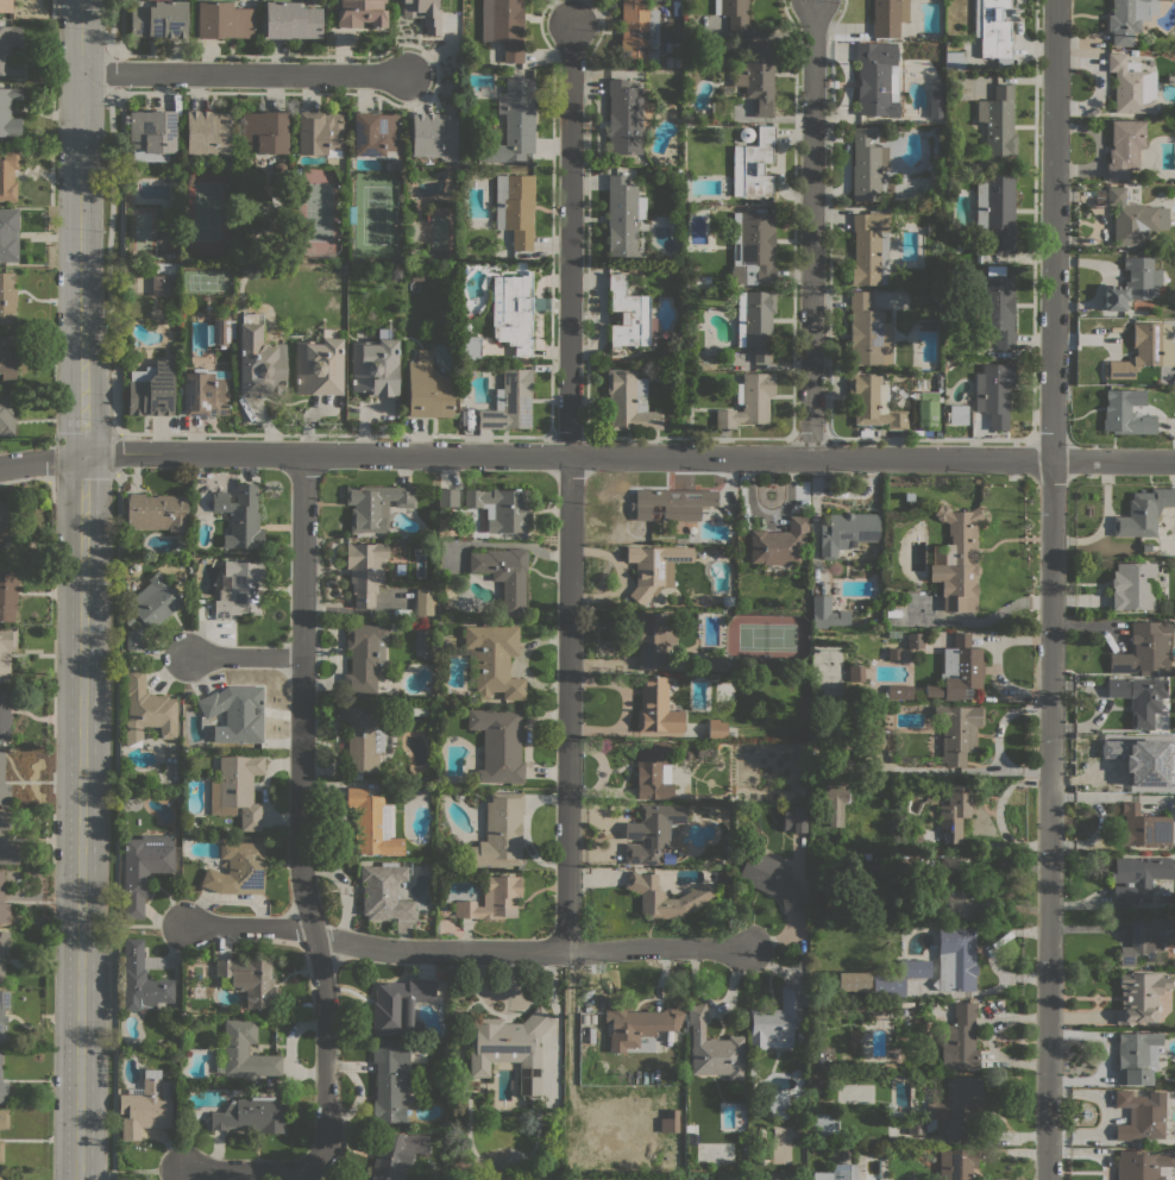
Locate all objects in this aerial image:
building: (6, 5)
building: (360, 13)
building: (423, 13)
building: (734, 13)
building: (888, 17)
building: (158, 19)
building: (1126, 19)
building: (224, 20)
building: (291, 20)
building: (504, 26)
road: (112, 27)
building: (993, 30)
building: (639, 33)
building: (10, 50)
building: (1133, 52)
building: (955, 59)
road: (108, 73)
road: (245, 75)
building: (756, 76)
building: (875, 79)
building: (1131, 84)
road: (50, 101)
building: (935, 101)
building: (8, 112)
building: (624, 118)
building: (998, 121)
building: (514, 123)
building: (264, 132)
building: (319, 133)
building: (152, 134)
building: (207, 134)
building: (376, 134)
building: (434, 134)
building: (746, 134)
building: (1125, 146)
building: (754, 164)
building: (867, 165)
building: (8, 175)
building: (515, 208)
building: (997, 208)
building: (623, 215)
building: (1133, 219)
road: (812, 228)
road: (1054, 230)
building: (8, 234)
building: (753, 247)
building: (871, 249)
building: (979, 258)
road: (108, 263)
building: (159, 284)
building: (1131, 284)
building: (7, 297)
building: (994, 306)
building: (513, 312)
building: (628, 314)
building: (755, 321)
building: (220, 331)
building: (868, 332)
building: (471, 347)
building: (1141, 351)
building: (259, 360)
building: (6, 363)
building: (319, 364)
building: (375, 365)
building: (428, 388)
building: (152, 390)
building: (206, 393)
building: (994, 393)
building: (510, 401)
building: (749, 401)
building: (630, 402)
building: (873, 402)
building: (929, 409)
building: (1126, 413)
building: (7, 414)
building: (959, 414)
road: (52, 441)
road: (567, 456)
road: (40, 460)
road: (1113, 460)
road: (568, 487)
building: (907, 496)
building: (447, 497)
building: (676, 502)
building: (375, 506)
building: (499, 508)
building: (157, 511)
building: (1143, 513)
building: (240, 516)
building: (7, 525)
building: (847, 532)
building: (779, 542)
building: (1145, 547)
building: (957, 560)
building: (654, 569)
building: (365, 570)
building: (504, 575)
building: (1131, 585)
road: (82, 589)
building: (240, 589)
building: (7, 592)
building: (728, 600)
building: (425, 601)
building: (149, 610)
building: (825, 613)
building: (652, 636)
building: (457, 640)
building: (915, 640)
building: (1144, 648)
building: (6, 651)
road: (151, 655)
building: (364, 655)
road: (245, 657)
building: (495, 660)
building: (712, 663)
building: (957, 669)
building: (856, 673)
building: (899, 692)
building: (918, 693)
road: (302, 698)
building: (1141, 698)
building: (656, 707)
building: (145, 710)
building: (235, 710)
building: (6, 711)
building: (717, 729)
building: (957, 732)
building: (815, 739)
building: (878, 739)
building: (363, 740)
road: (527, 742)
building: (498, 743)
building: (1143, 759)
building: (653, 767)
building: (835, 782)
building: (817, 783)
building: (4, 789)
building: (237, 789)
building: (834, 804)
building: (956, 809)
building: (794, 817)
building: (5, 820)
road: (1049, 820)
building: (372, 824)
road: (114, 827)
building: (1143, 827)
road: (524, 829)
building: (499, 831)
building: (653, 831)
building: (8, 851)
building: (867, 855)
building: (876, 855)
building: (894, 855)
building: (667, 858)
building: (885, 867)
building: (144, 868)
building: (237, 868)
building: (767, 874)
building: (1137, 878)
building: (960, 889)
building: (385, 895)
building: (698, 895)
building: (492, 899)
building: (905, 902)
building: (4, 903)
building: (915, 916)
road: (150, 927)
road: (250, 928)
building: (1146, 939)
building: (4, 940)
road: (533, 952)
building: (956, 958)
building: (1173, 964)
building: (916, 968)
building: (1, 971)
building: (142, 980)
building: (249, 981)
building: (853, 981)
building: (888, 985)
building: (1139, 997)
building: (398, 1004)
building: (879, 1009)
building: (2, 1011)
building: (777, 1021)
building: (637, 1024)
building: (808, 1035)
building: (802, 1036)
building: (960, 1038)
building: (509, 1047)
building: (714, 1048)
building: (244, 1052)
building: (1137, 1056)
building: (813, 1057)
building: (390, 1082)
building: (2, 1085)
building: (145, 1105)
building: (779, 1105)
building: (951, 1111)
building: (251, 1115)
building: (1141, 1115)
building: (4, 1119)
road: (326, 1121)
building: (671, 1121)
building: (825, 1125)
building: (689, 1128)
building: (779, 1144)
building: (1, 1150)
building: (392, 1157)
building: (957, 1162)
building: (1142, 1165)
road: (146, 1170)
building: (840, 1172)
building: (854, 1172)
building: (0, 1174)
building: (733, 1178)

